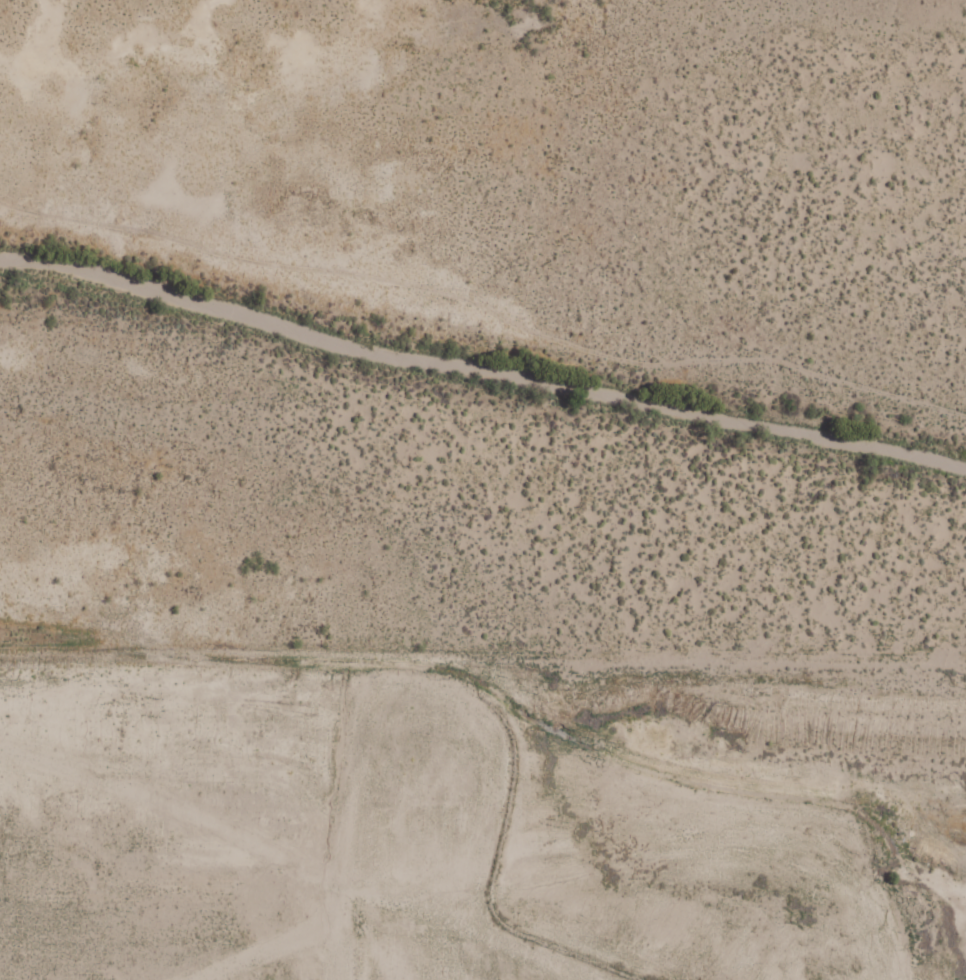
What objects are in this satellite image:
river: (483, 360)

